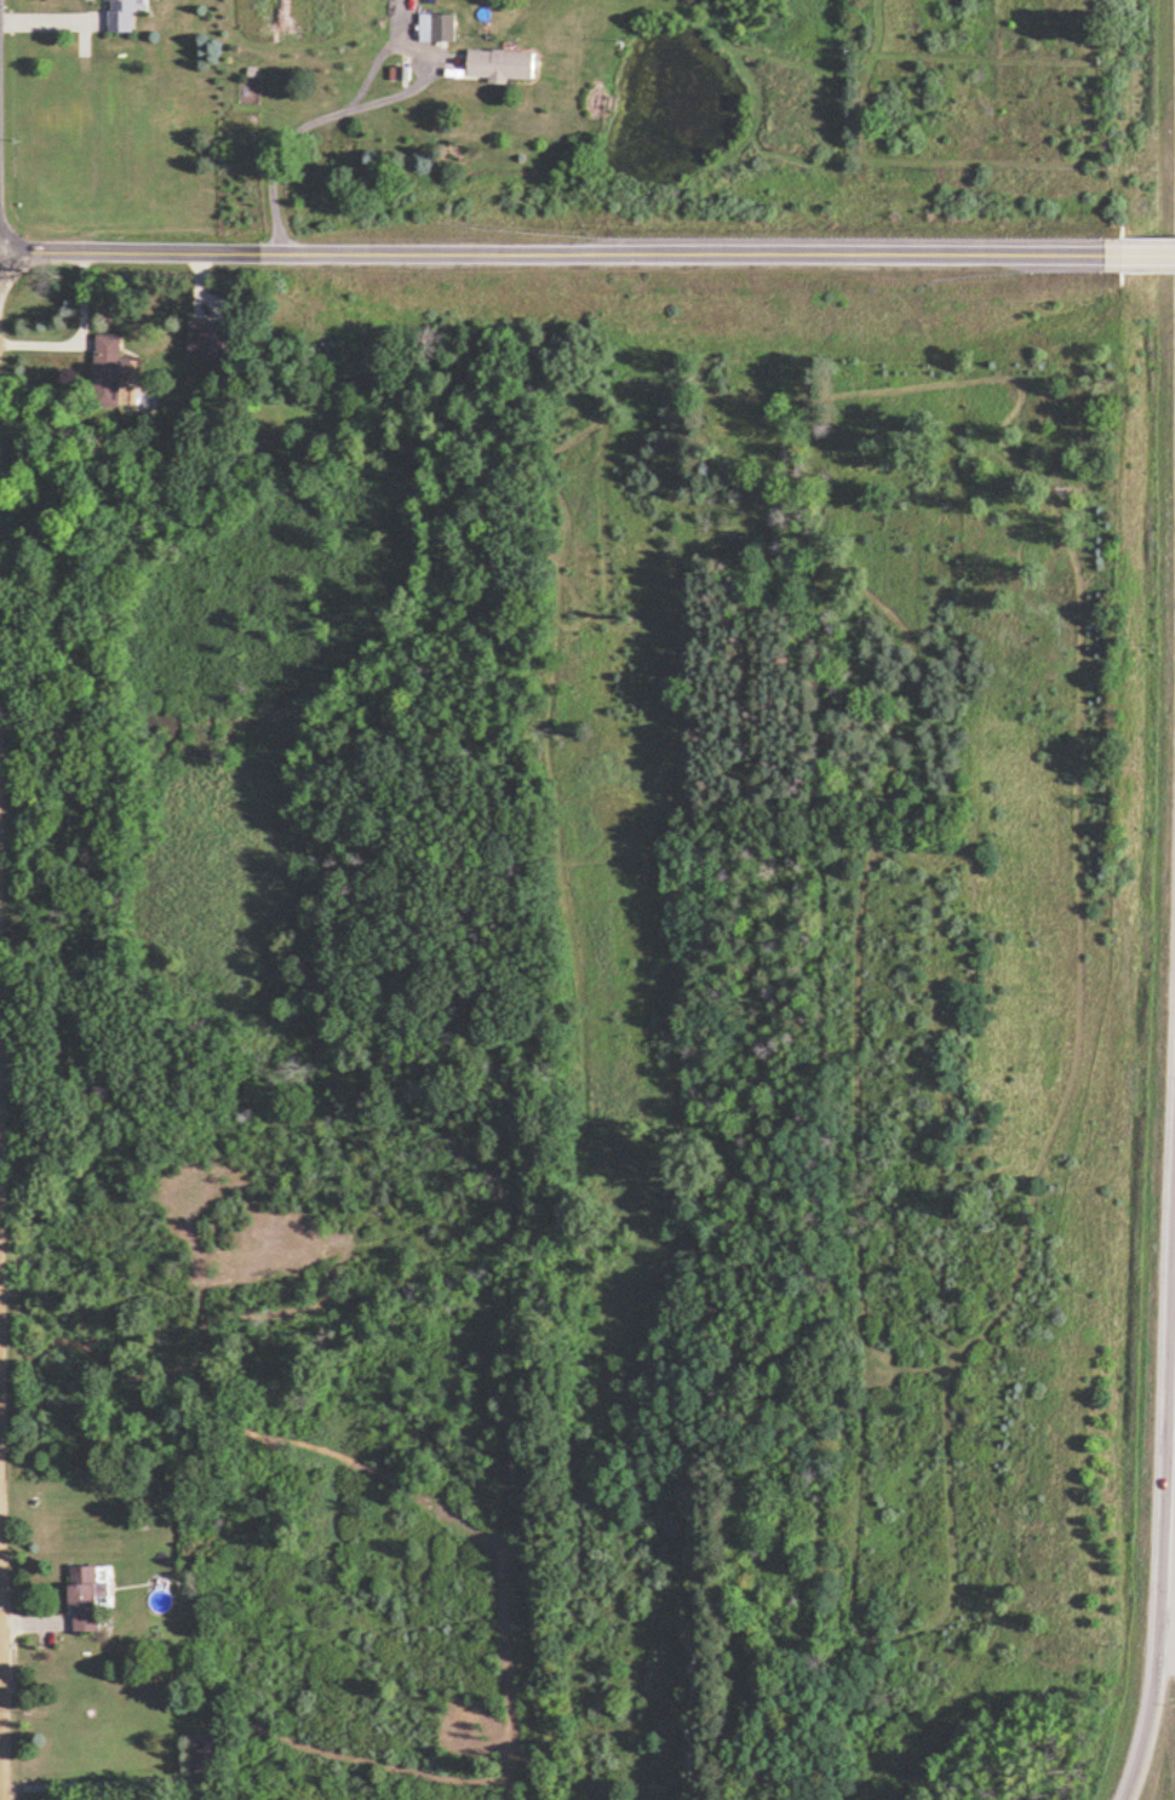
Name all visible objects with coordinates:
building: (121, 16)
building: (434, 28)
building: (504, 65)
road: (308, 124)
road: (545, 251)
road: (1133, 253)
building: (204, 339)
building: (108, 369)
road: (1164, 1422)
building: (88, 1597)
building: (207, 1762)

